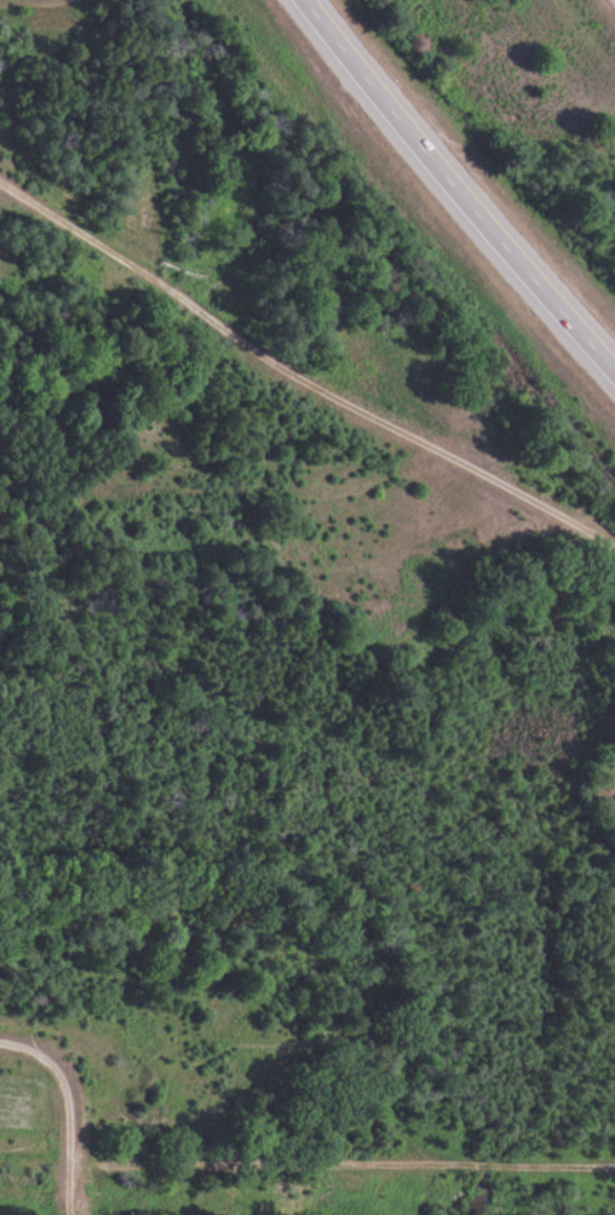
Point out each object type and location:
road: (454, 188)
road: (320, 376)
road: (64, 1087)
road: (344, 1169)
road: (76, 1193)

